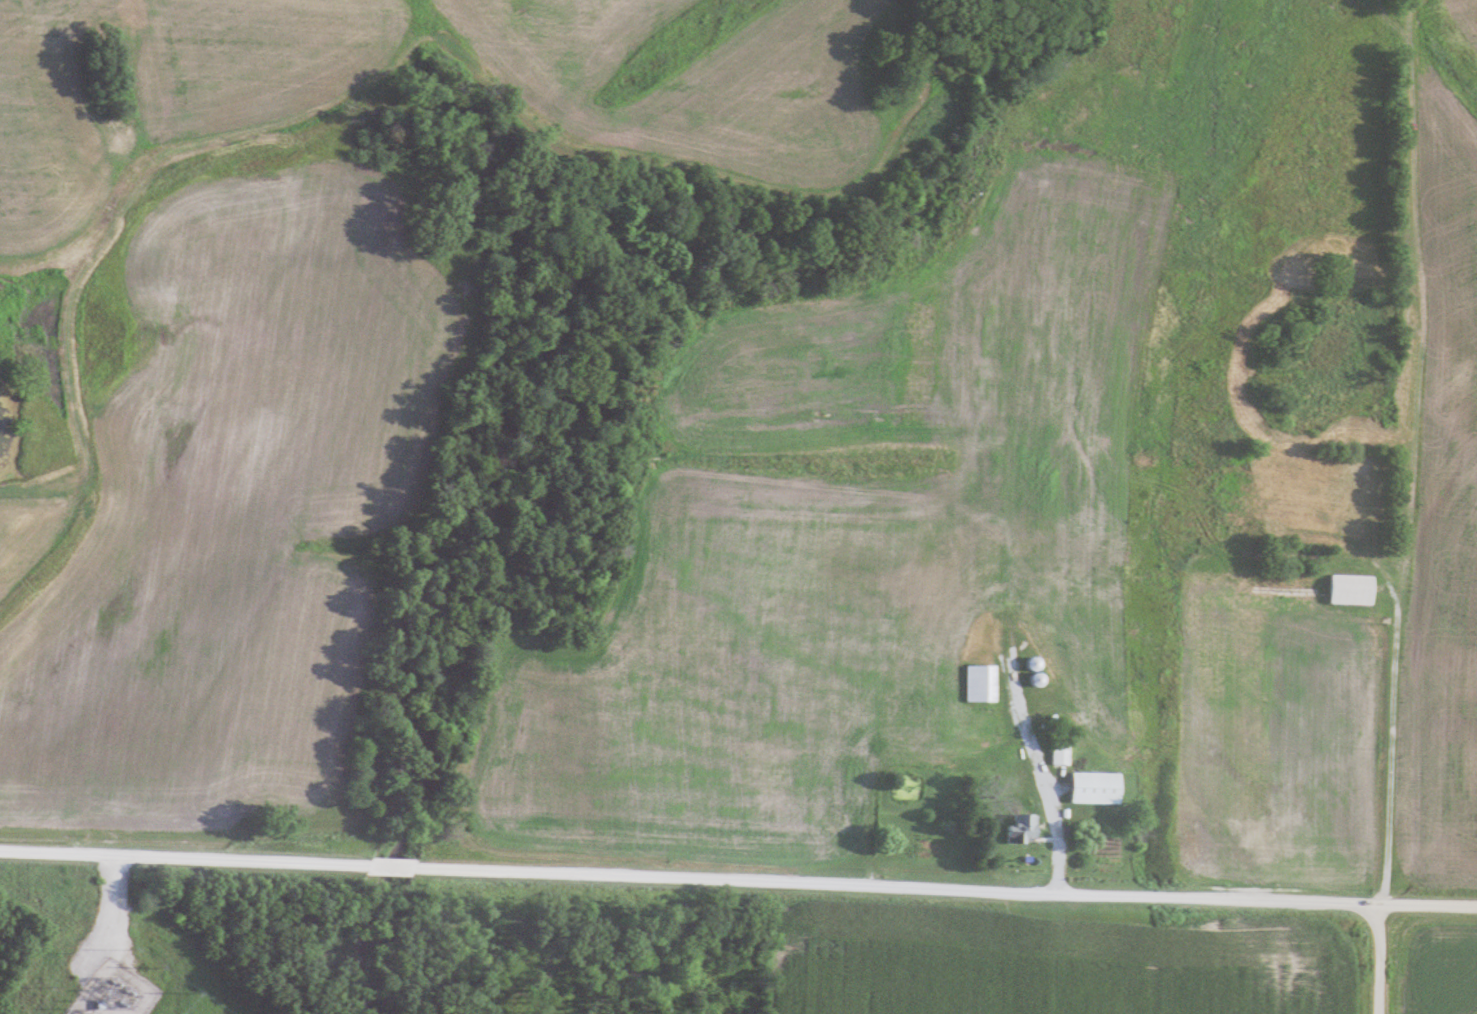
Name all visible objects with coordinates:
building: (1340, 589)
road: (1009, 612)
building: (1036, 666)
building: (1039, 680)
building: (971, 683)
building: (1078, 696)
road: (1391, 745)
building: (1050, 755)
building: (1062, 756)
building: (1085, 788)
building: (1025, 830)
road: (738, 880)
road: (129, 915)
road: (1380, 958)
power substation: (116, 992)

